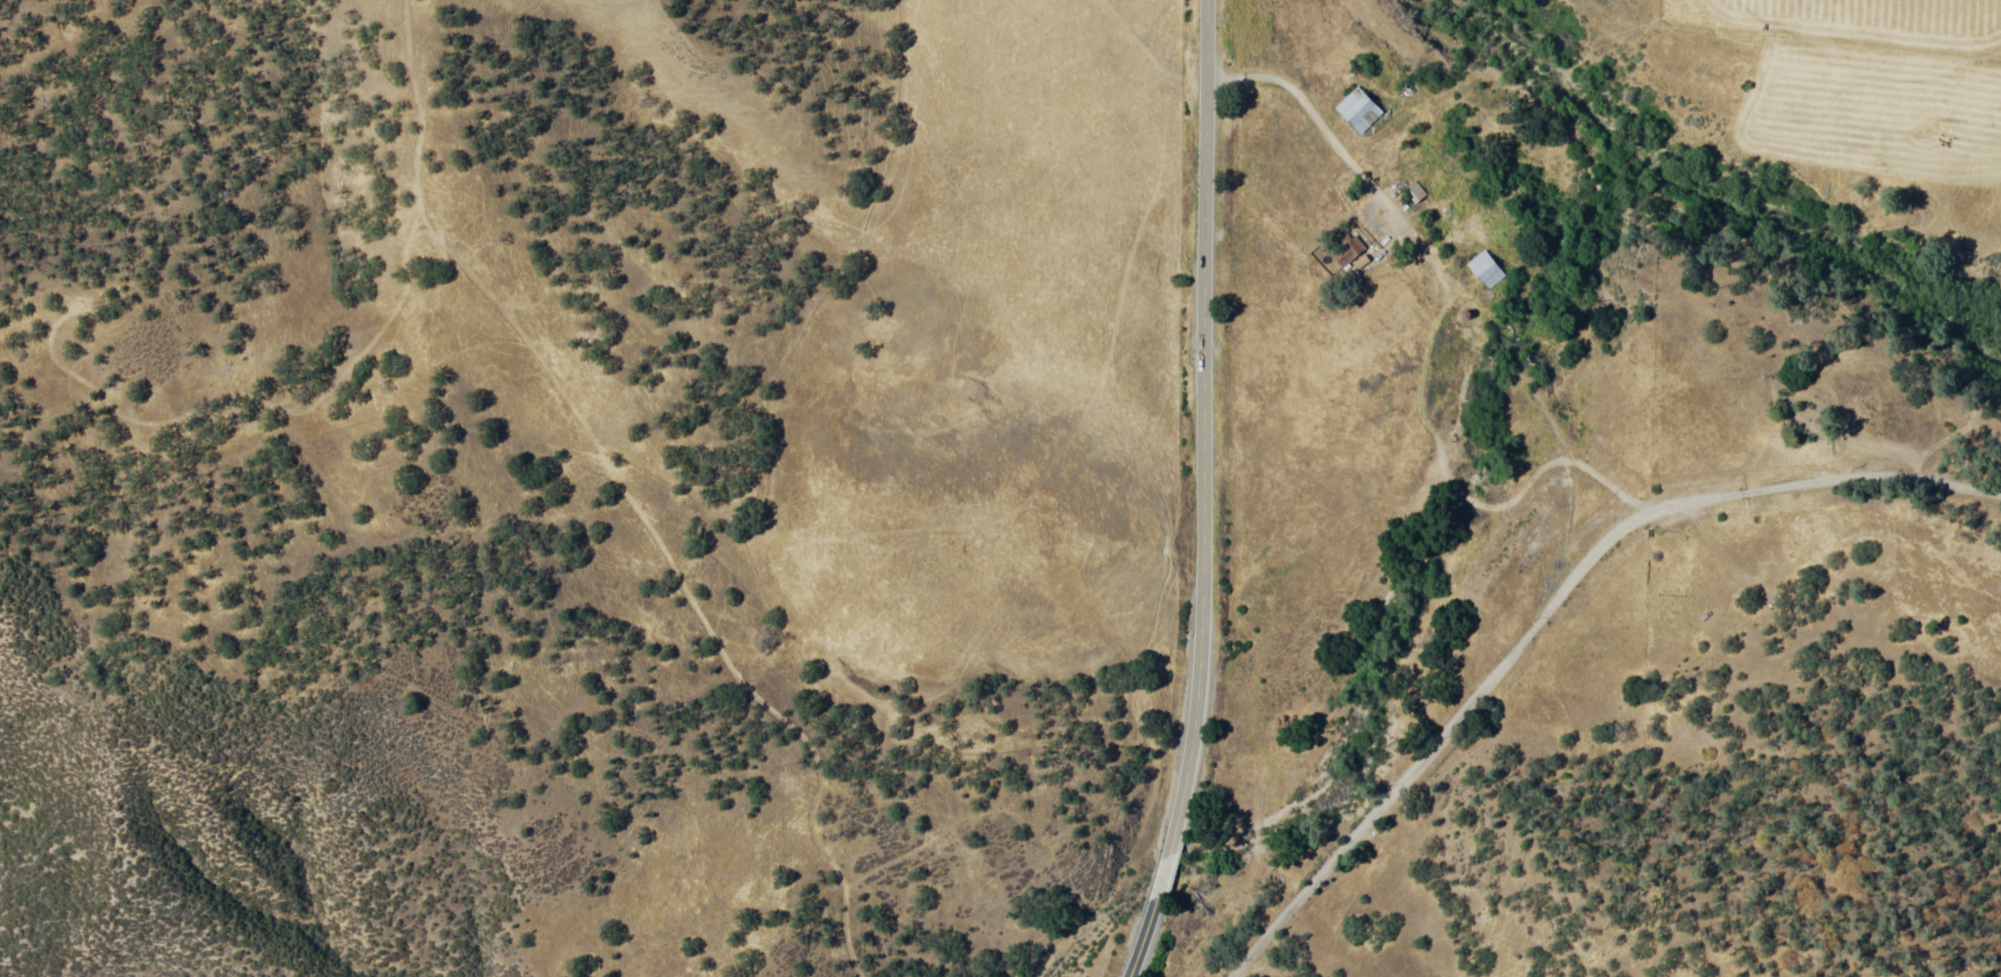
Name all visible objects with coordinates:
building: (1358, 113)
building: (1416, 196)
building: (1489, 272)
road: (1445, 275)
road: (1203, 425)
road: (1562, 609)
road: (1163, 880)
road: (1142, 943)

